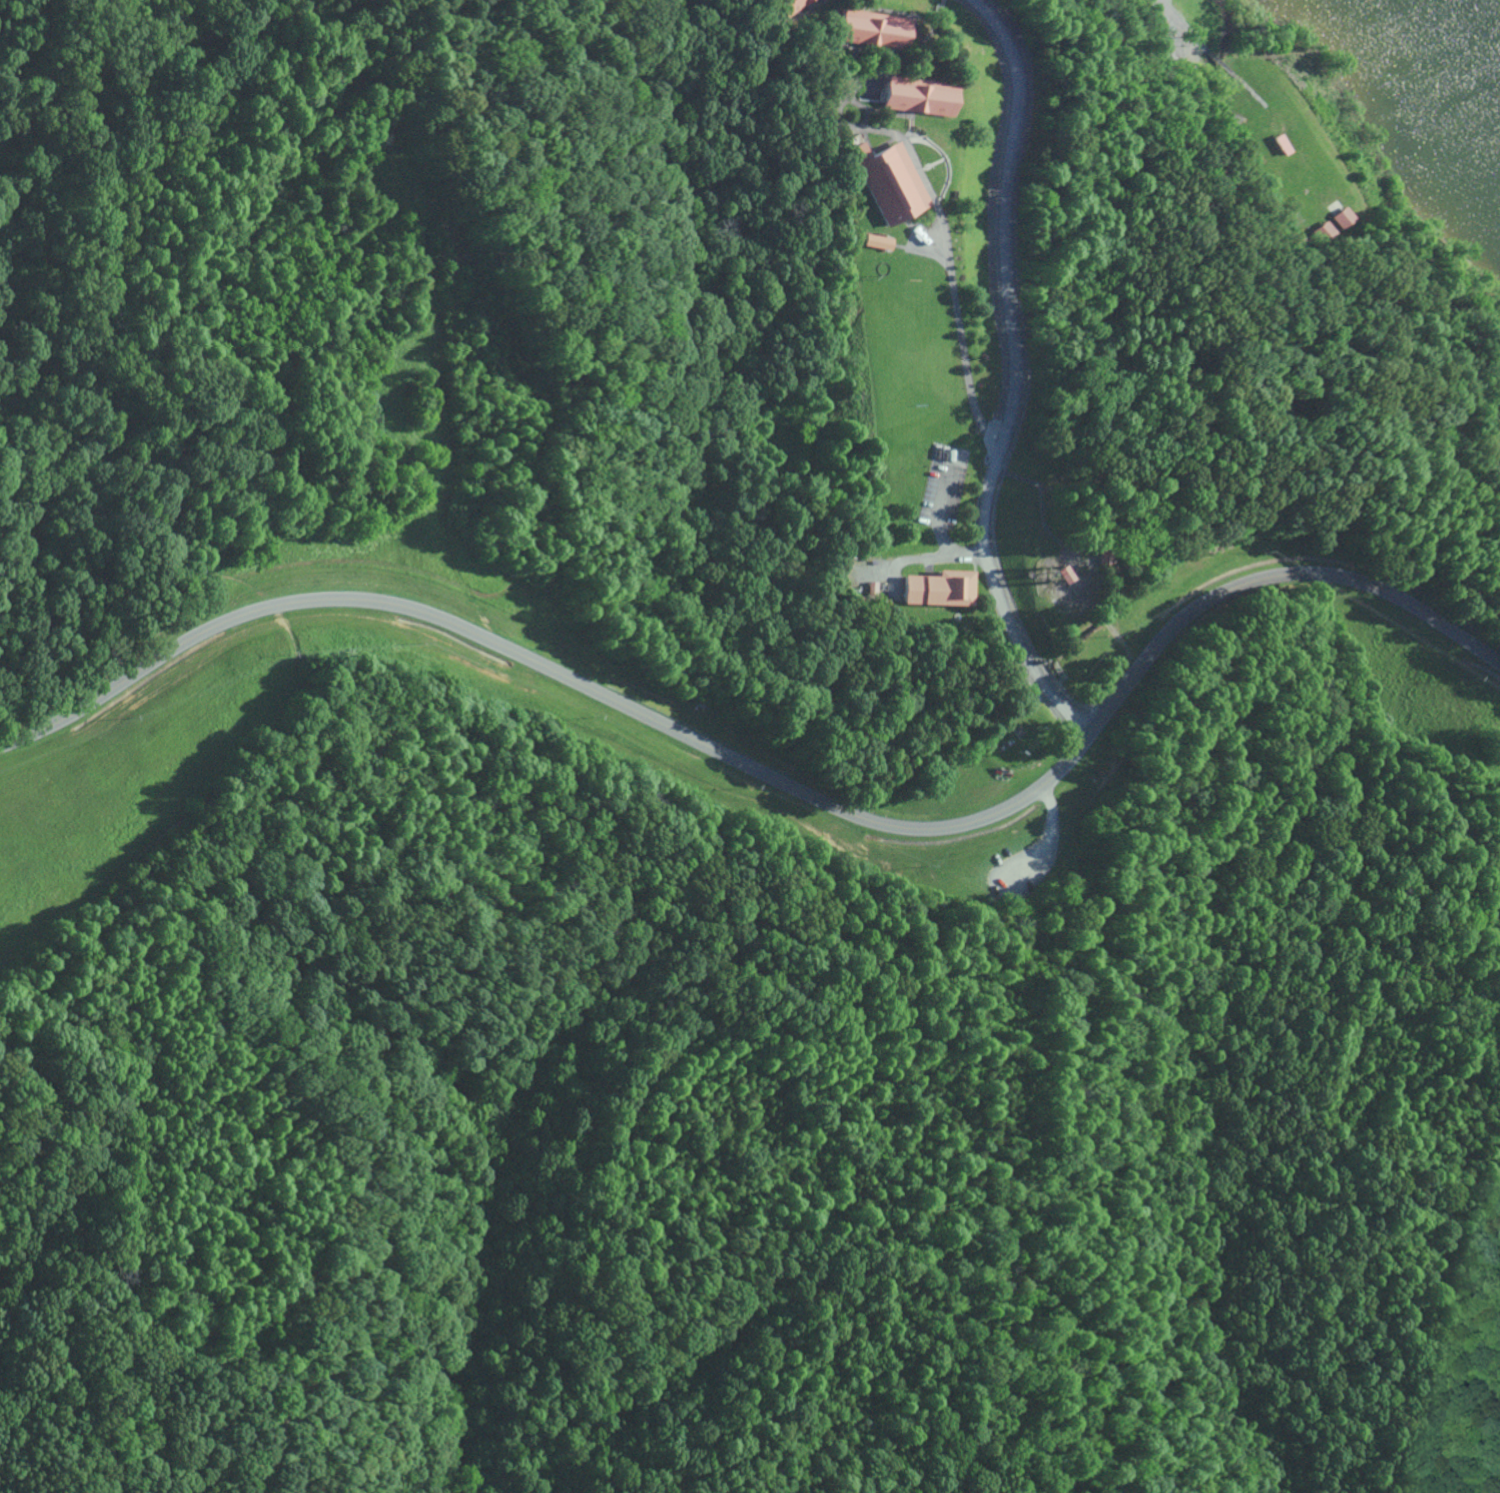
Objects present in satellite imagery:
building: (800, 2)
building: (871, 28)
building: (915, 95)
building: (887, 181)
road: (1008, 375)
building: (937, 588)
park: (737, 758)
road: (783, 785)
road: (1038, 851)
road: (585, 1251)
road: (946, 1491)

